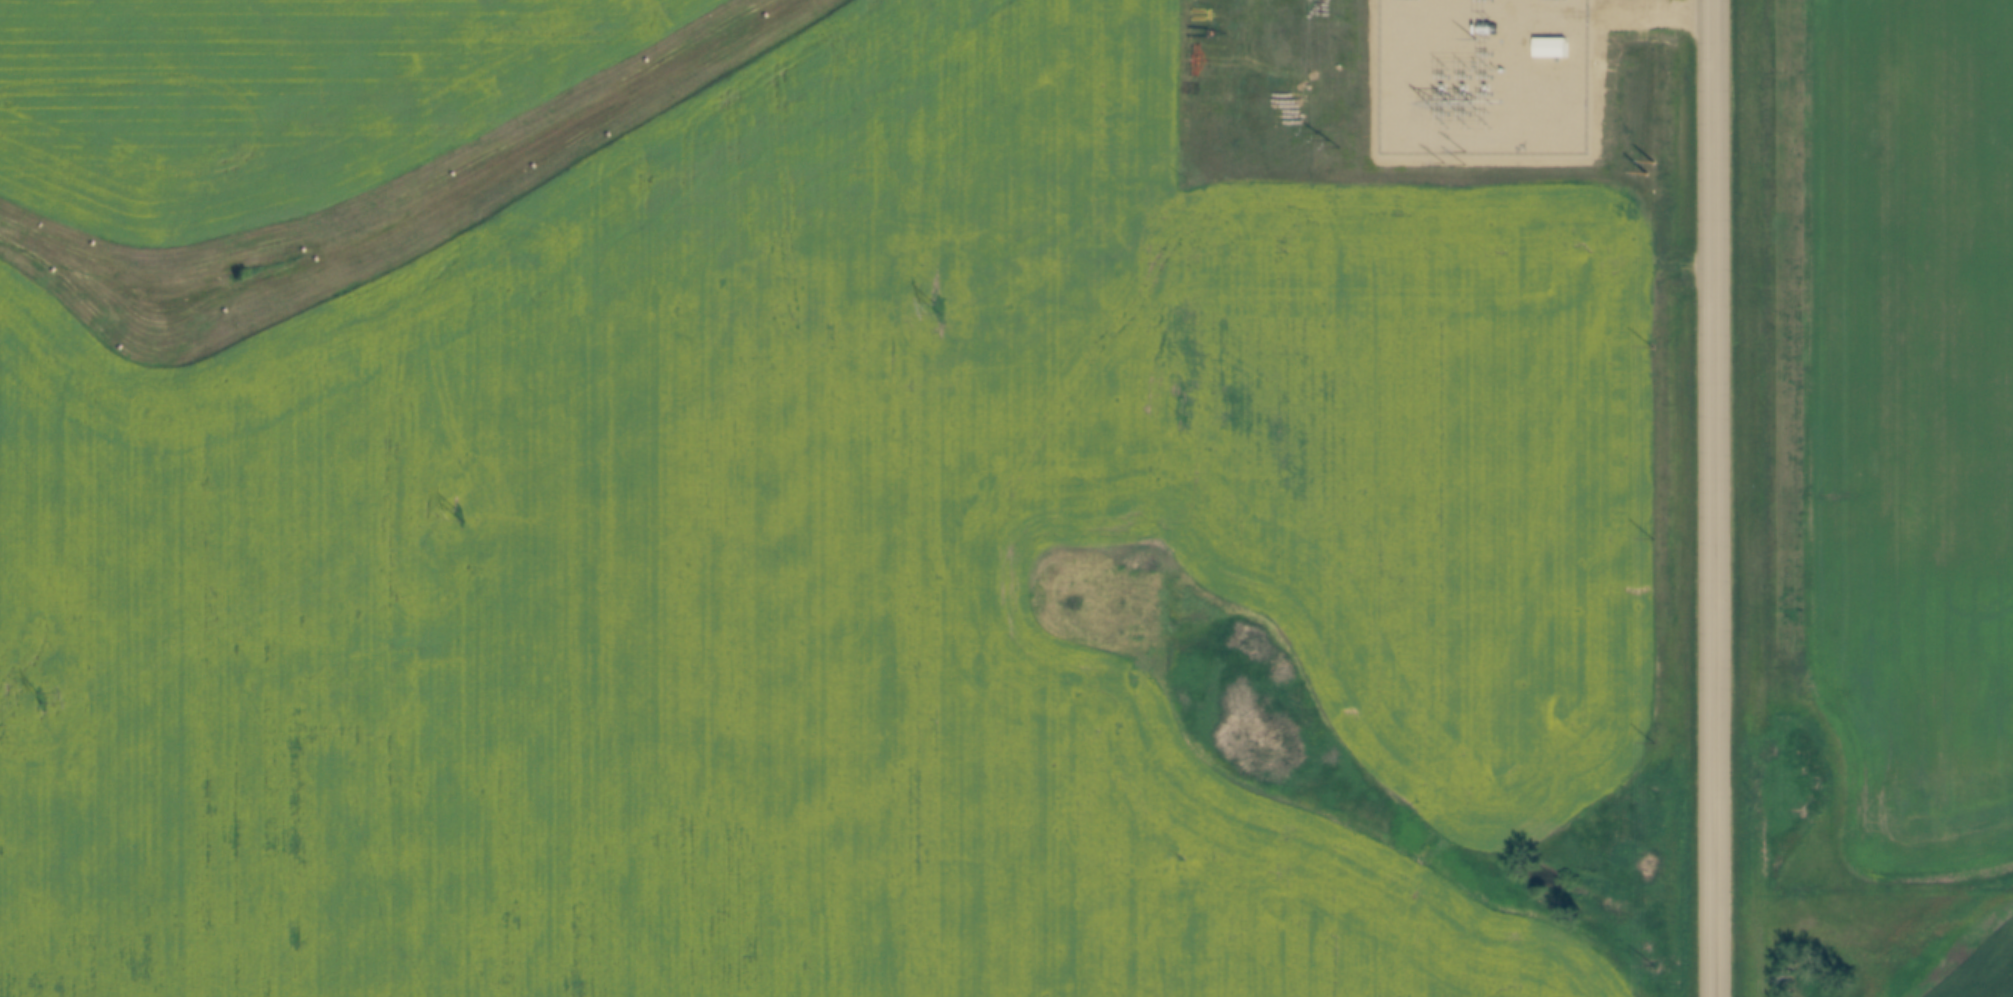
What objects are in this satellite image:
building: (1549, 45)
power substation: (1482, 76)
power tower: (1326, 139)
power tower: (936, 308)
road: (1715, 498)
power tower: (457, 514)
power tower: (36, 696)

